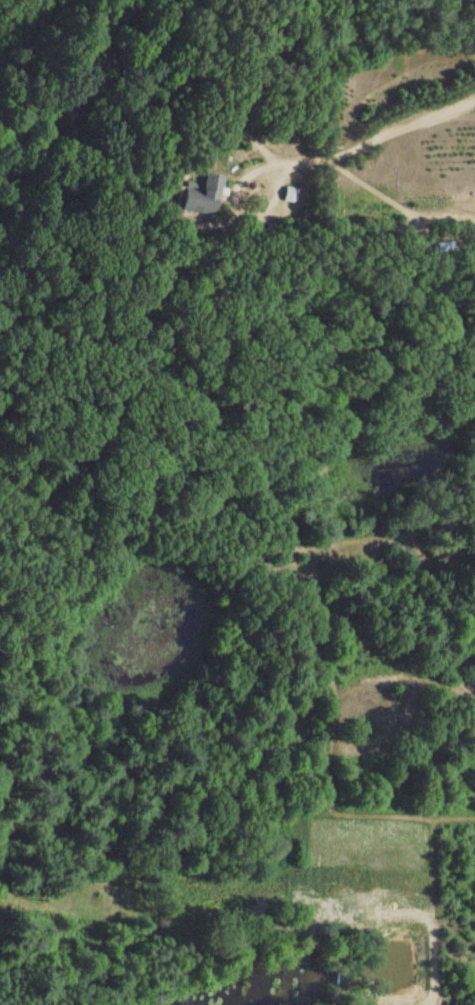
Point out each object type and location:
building: (291, 195)
building: (200, 196)

